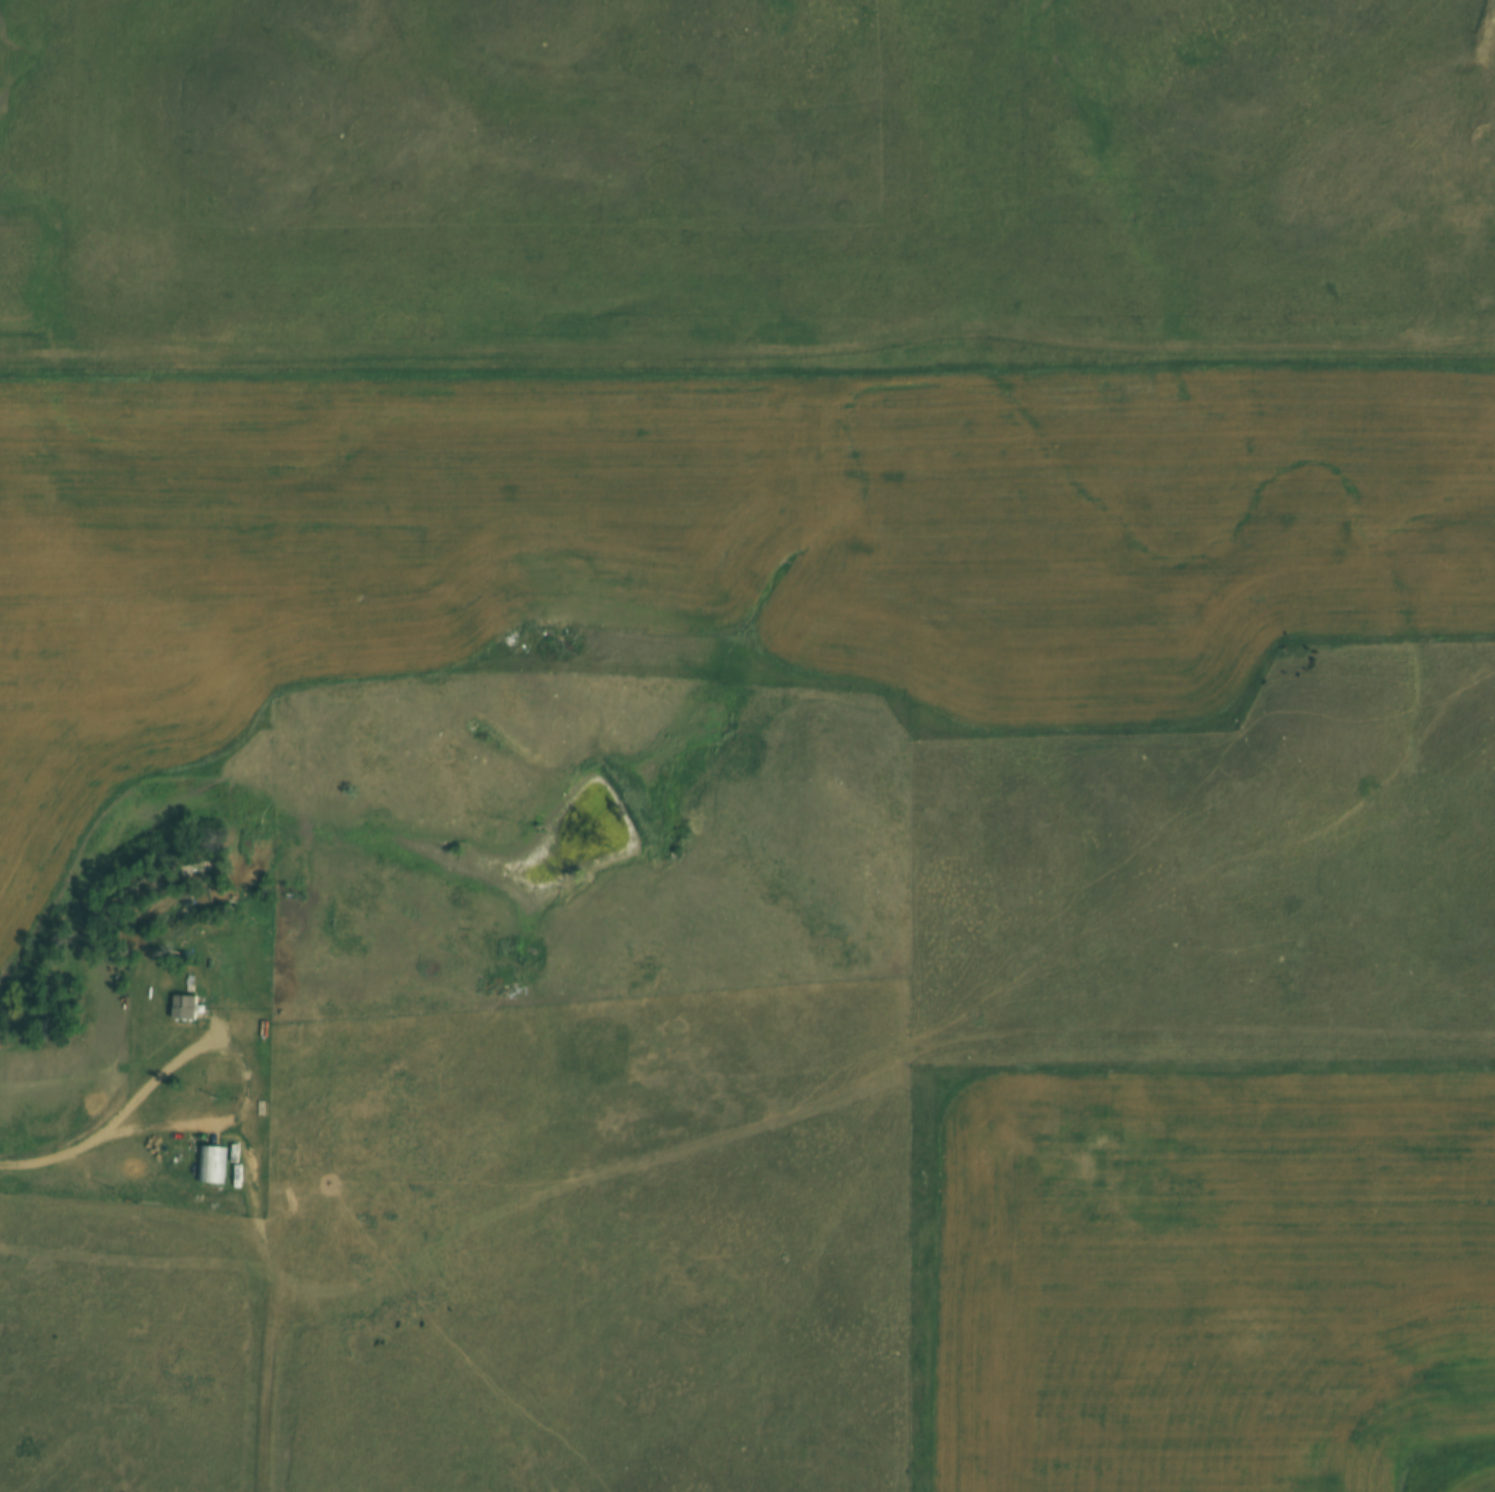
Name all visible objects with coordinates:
building: (352, 963)
building: (185, 1008)
building: (292, 1033)
road: (246, 1070)
building: (302, 1071)
building: (393, 1147)
road: (50, 1154)
building: (209, 1164)
building: (283, 1165)
road: (270, 1305)

